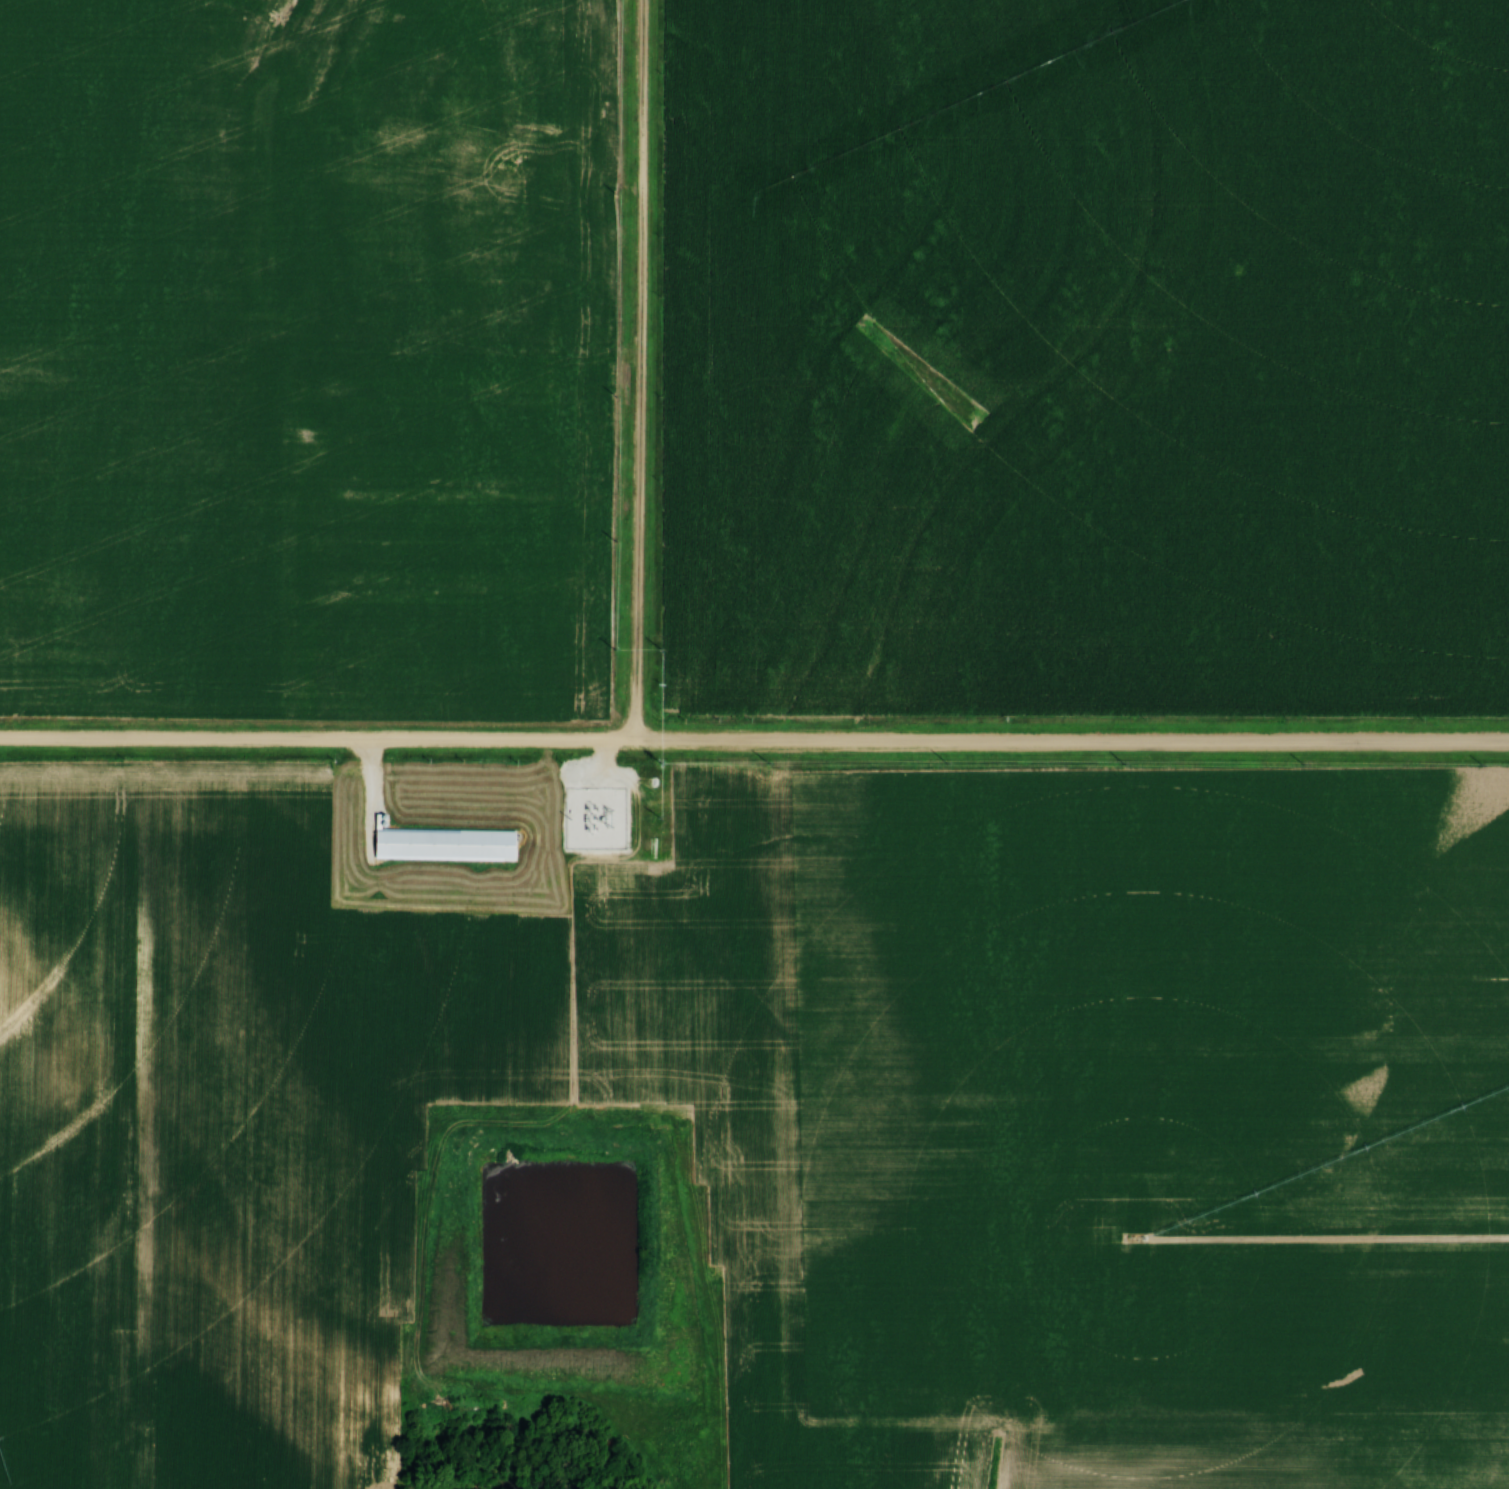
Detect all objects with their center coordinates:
road: (640, 372)
road: (754, 745)
building: (448, 843)

